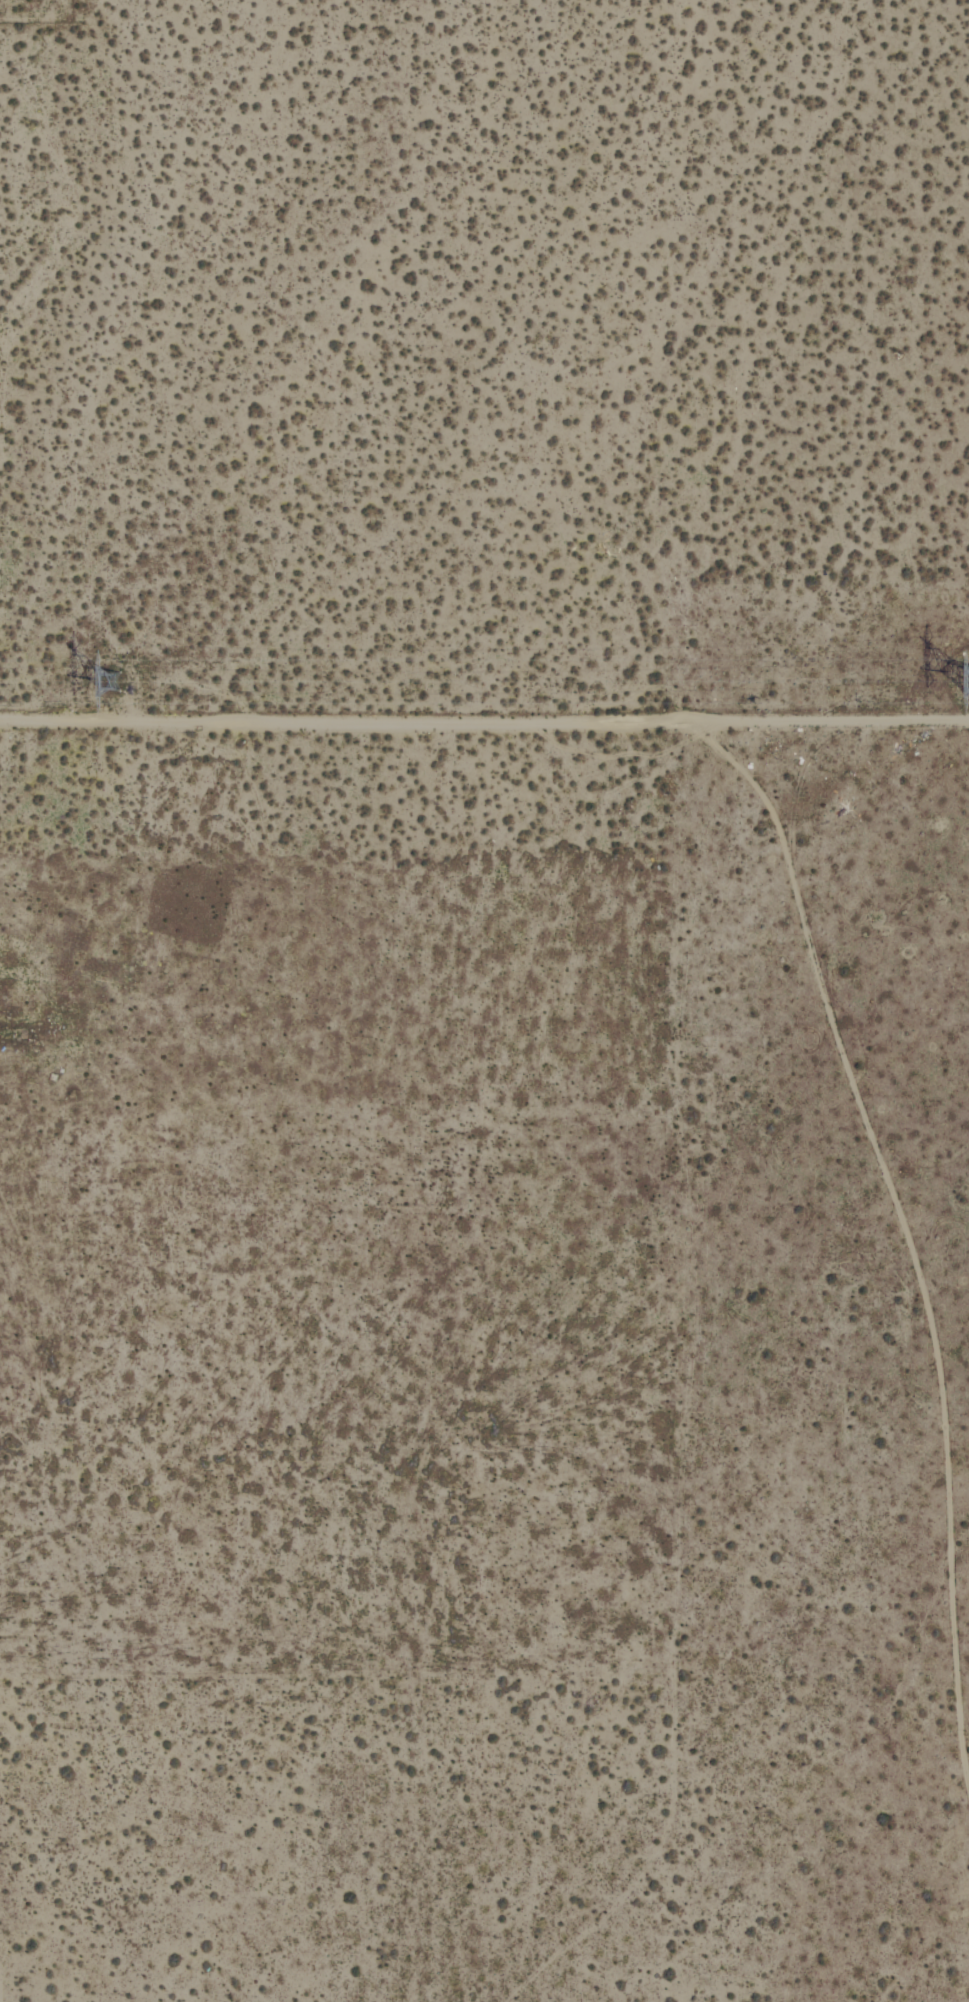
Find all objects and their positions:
power tower: (114, 699)
road: (484, 721)
road: (904, 1228)

